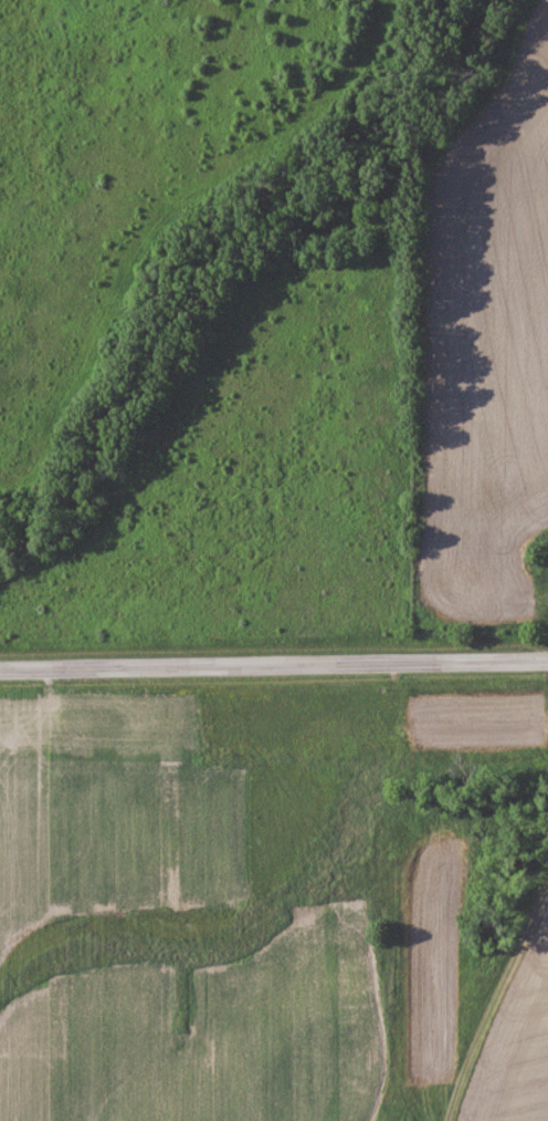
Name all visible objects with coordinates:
road: (274, 664)

